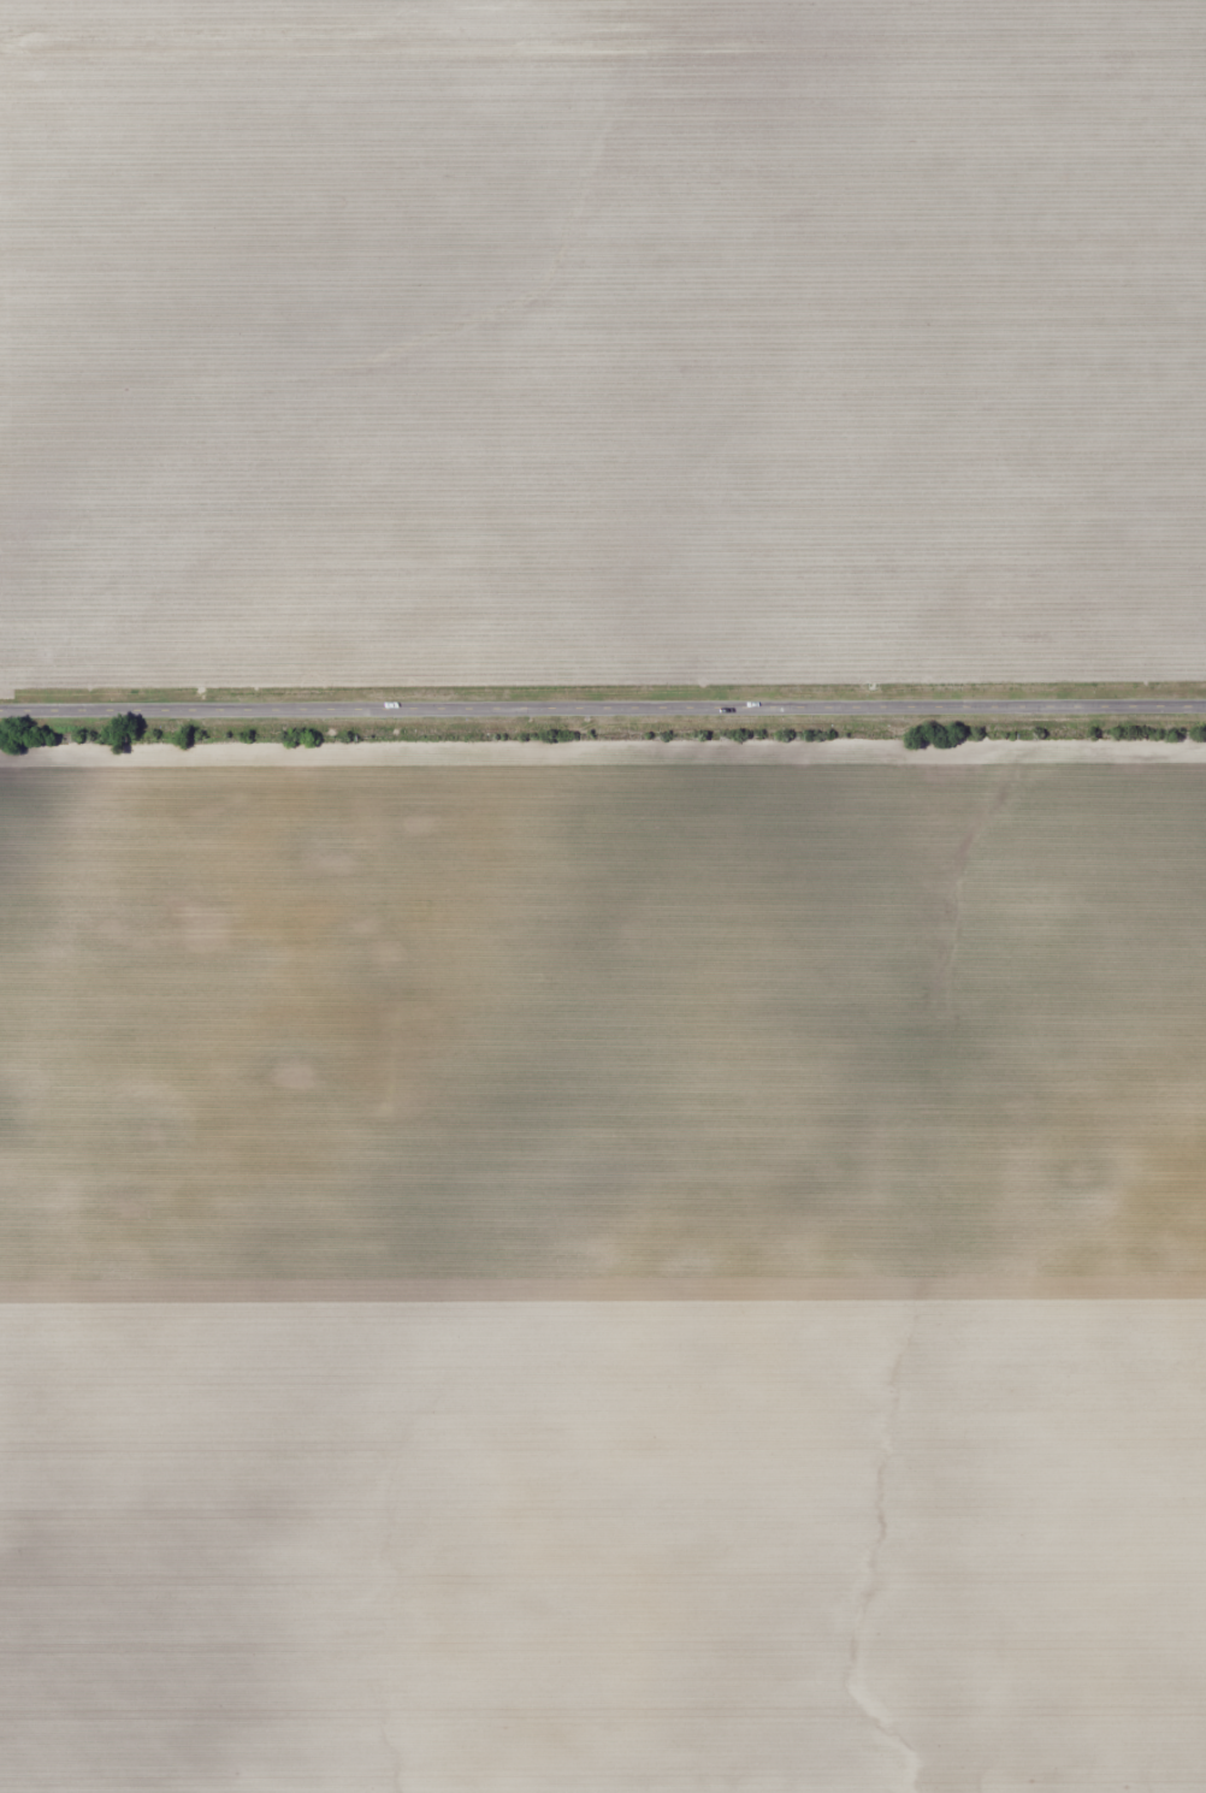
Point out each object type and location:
road: (603, 706)

